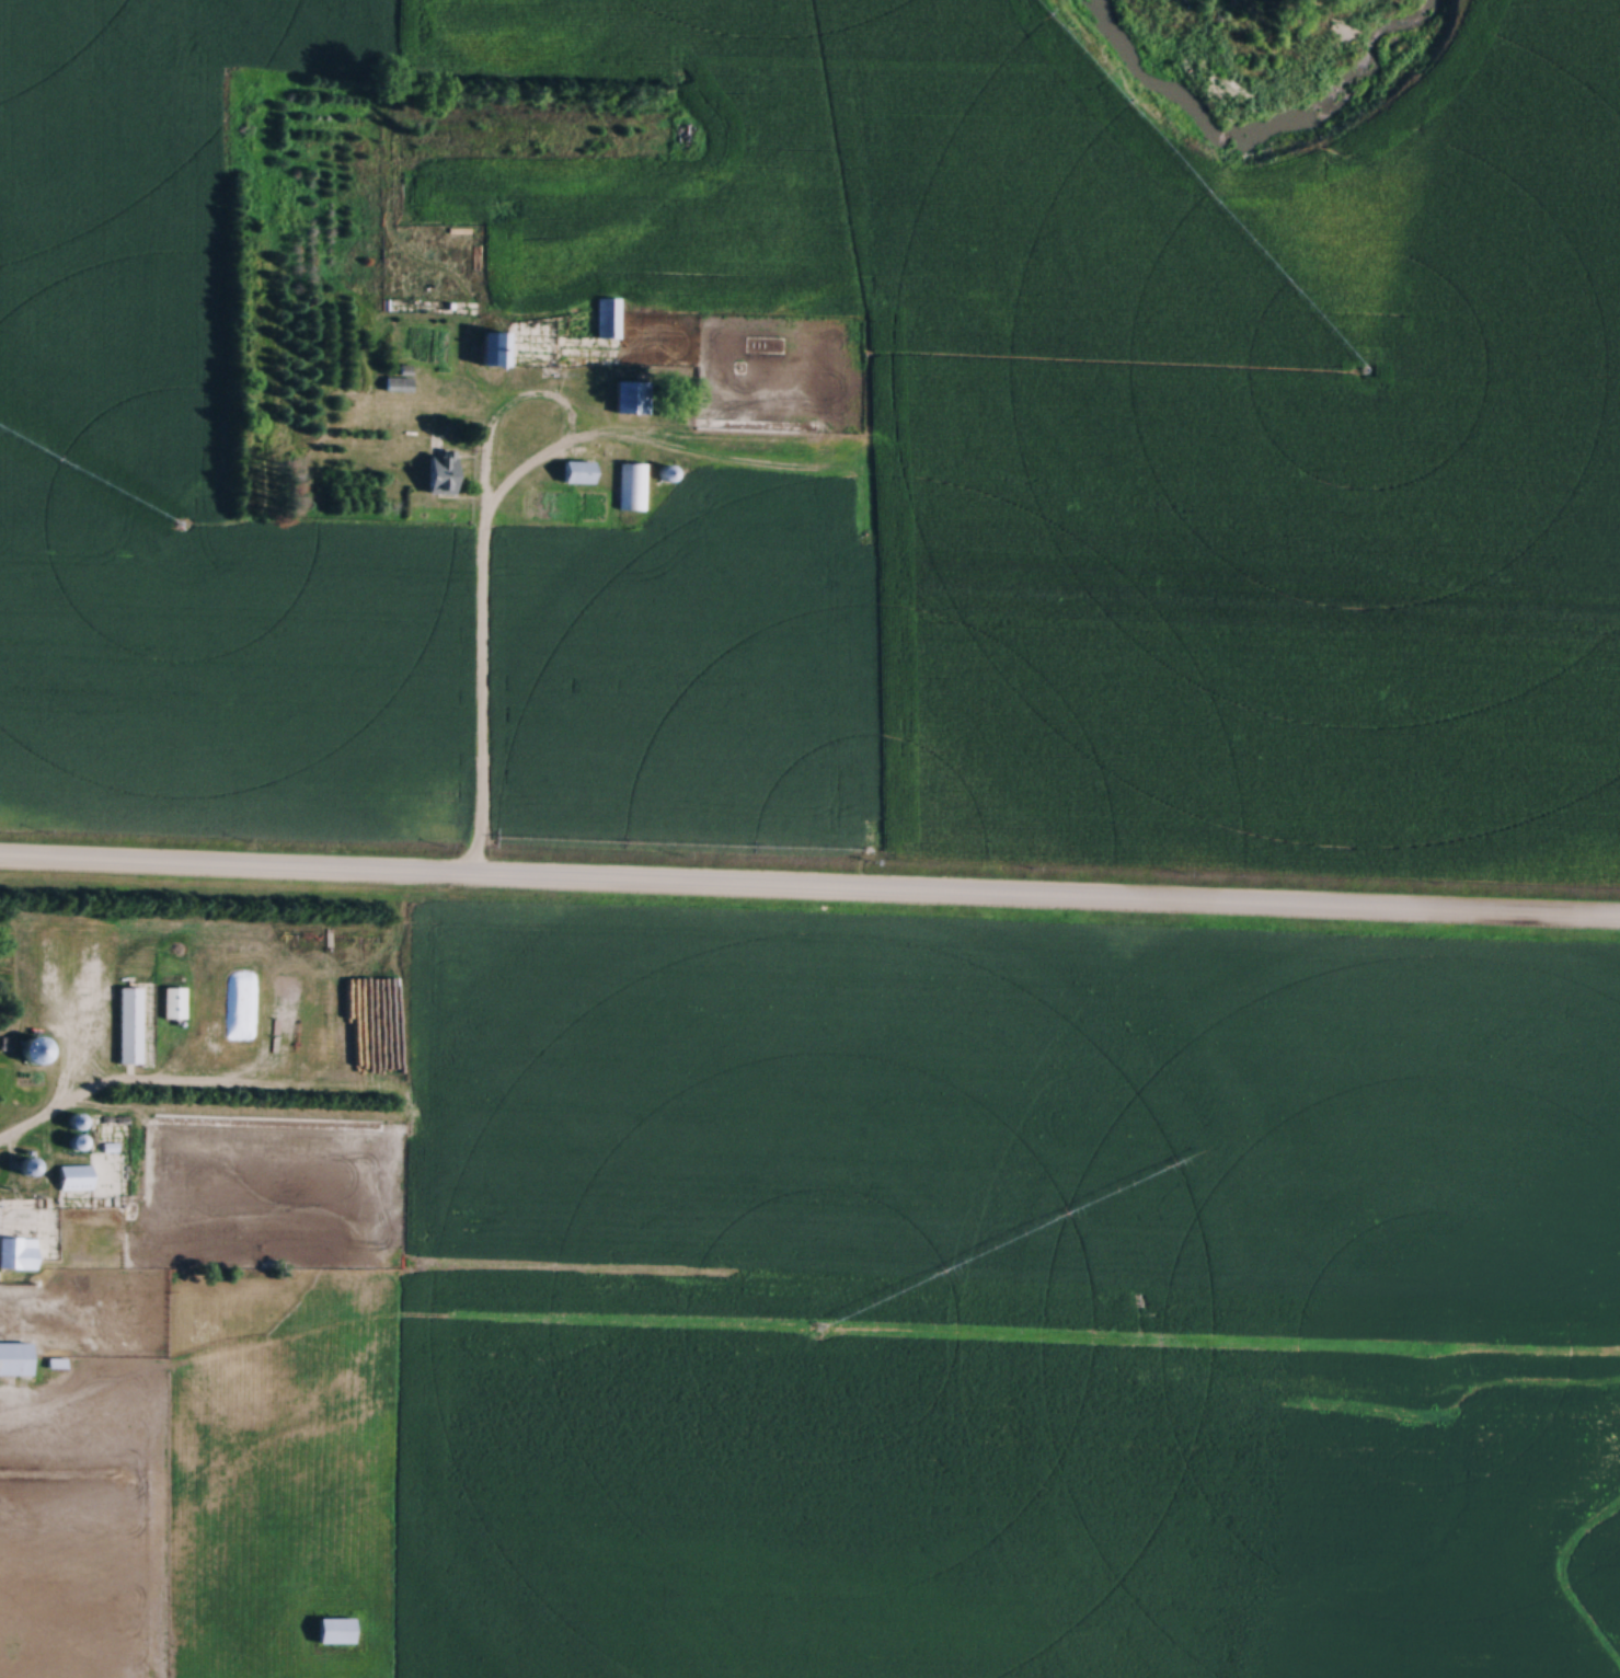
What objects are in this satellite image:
building: (761, 243)
building: (607, 318)
building: (493, 350)
building: (397, 384)
building: (632, 399)
building: (576, 472)
building: (632, 486)
road: (486, 660)
road: (809, 894)
building: (172, 1001)
building: (128, 1024)
building: (161, 1037)
building: (33, 1047)
building: (315, 1047)
building: (73, 1177)
building: (16, 1253)
building: (14, 1358)
building: (334, 1631)

